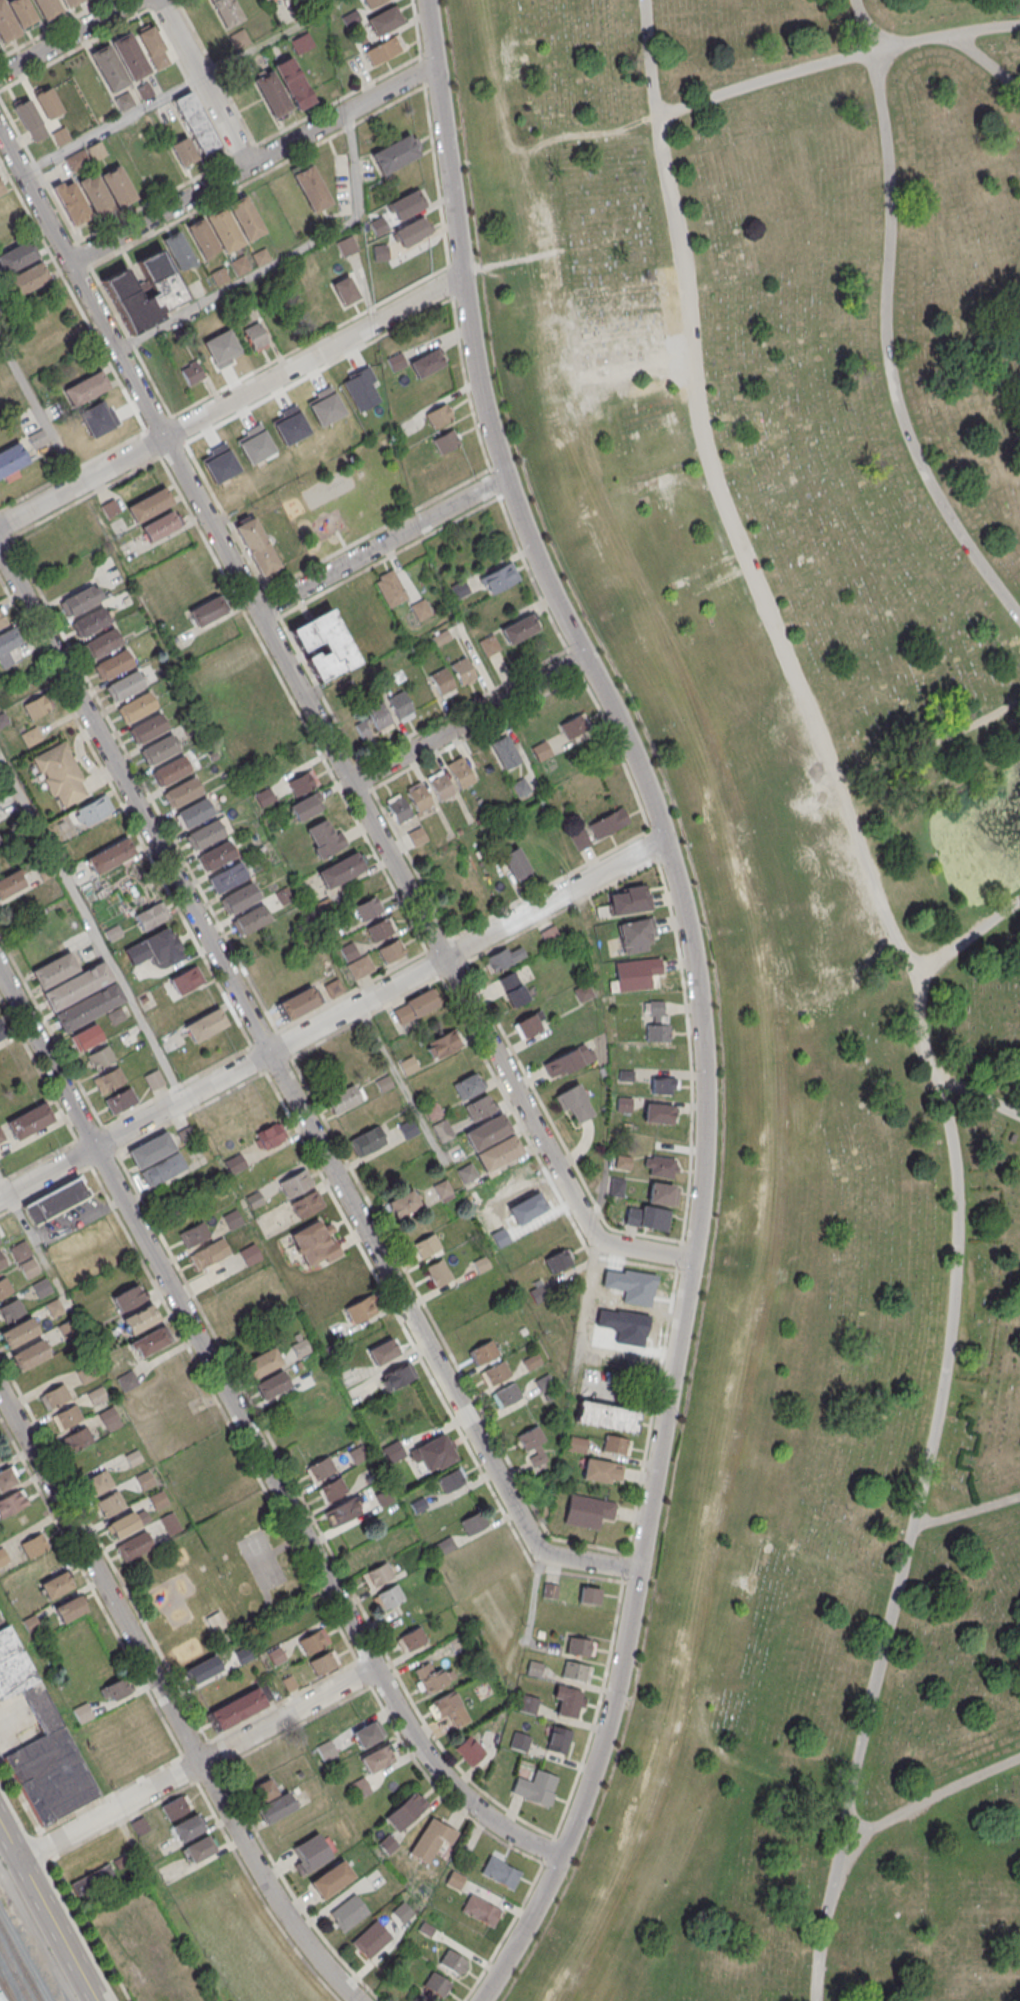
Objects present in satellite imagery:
building: (263, 0)
building: (373, 3)
building: (53, 7)
building: (226, 12)
building: (16, 18)
building: (384, 21)
road: (66, 36)
building: (239, 39)
road: (268, 40)
building: (301, 42)
building: (154, 49)
building: (384, 50)
road: (984, 56)
road: (835, 59)
building: (119, 64)
road: (203, 82)
building: (293, 83)
building: (144, 92)
building: (272, 93)
building: (125, 101)
building: (47, 103)
building: (30, 119)
building: (196, 122)
road: (110, 125)
building: (60, 137)
building: (183, 150)
building: (96, 151)
building: (394, 153)
building: (78, 160)
road: (250, 163)
building: (311, 188)
building: (1, 191)
building: (107, 191)
building: (71, 201)
building: (406, 205)
building: (225, 228)
building: (411, 233)
building: (179, 251)
road: (283, 259)
building: (218, 277)
building: (28, 279)
building: (164, 286)
building: (196, 288)
building: (345, 290)
road: (886, 323)
building: (254, 337)
building: (396, 362)
building: (426, 363)
building: (191, 374)
building: (86, 389)
road: (230, 400)
road: (39, 411)
building: (438, 415)
building: (37, 438)
building: (446, 441)
building: (12, 459)
park: (346, 496)
building: (149, 505)
building: (159, 526)
road: (380, 544)
building: (257, 546)
building: (499, 578)
building: (390, 588)
building: (80, 601)
building: (420, 610)
building: (207, 611)
building: (1, 621)
building: (90, 623)
building: (519, 629)
building: (103, 645)
building: (489, 645)
building: (324, 646)
building: (8, 647)
building: (112, 666)
building: (462, 672)
building: (442, 682)
building: (124, 687)
building: (37, 706)
building: (400, 706)
building: (136, 708)
road: (467, 720)
building: (372, 723)
building: (573, 727)
building: (147, 729)
road: (320, 729)
building: (159, 750)
building: (503, 751)
building: (541, 751)
building: (170, 772)
building: (460, 774)
building: (61, 776)
building: (302, 782)
building: (439, 786)
building: (182, 793)
building: (418, 797)
building: (306, 806)
building: (398, 809)
building: (92, 812)
building: (194, 814)
building: (608, 824)
building: (205, 836)
building: (416, 837)
building: (325, 838)
building: (579, 840)
building: (110, 858)
building: (215, 858)
building: (515, 865)
building: (340, 870)
building: (227, 879)
building: (10, 884)
building: (239, 900)
building: (628, 901)
building: (368, 909)
road: (883, 916)
building: (150, 918)
building: (250, 922)
road: (91, 927)
building: (380, 931)
park: (801, 934)
road: (968, 934)
building: (550, 936)
building: (636, 936)
building: (166, 951)
building: (391, 952)
building: (505, 958)
building: (360, 968)
building: (54, 970)
building: (636, 974)
building: (77, 986)
building: (180, 989)
building: (333, 989)
building: (512, 990)
building: (583, 993)
road: (696, 996)
building: (299, 1004)
building: (89, 1007)
building: (414, 1008)
road: (332, 1017)
building: (657, 1021)
building: (530, 1025)
building: (206, 1026)
building: (2, 1034)
building: (87, 1038)
building: (443, 1045)
building: (99, 1058)
building: (568, 1060)
building: (409, 1067)
building: (154, 1080)
building: (109, 1081)
building: (663, 1085)
building: (468, 1086)
road: (406, 1094)
road: (978, 1096)
road: (293, 1097)
building: (346, 1100)
building: (120, 1102)
building: (575, 1103)
building: (479, 1107)
building: (432, 1111)
building: (658, 1113)
building: (30, 1121)
building: (408, 1130)
building: (442, 1131)
building: (487, 1131)
building: (268, 1136)
building: (367, 1143)
building: (151, 1150)
building: (498, 1153)
building: (235, 1163)
building: (660, 1166)
building: (163, 1170)
building: (295, 1183)
building: (616, 1186)
building: (662, 1193)
building: (56, 1200)
building: (254, 1200)
building: (306, 1205)
building: (404, 1205)
building: (647, 1217)
road: (21, 1218)
building: (232, 1220)
road: (79, 1222)
building: (193, 1235)
building: (316, 1244)
building: (427, 1247)
building: (210, 1254)
building: (250, 1254)
building: (558, 1261)
building: (2, 1262)
building: (481, 1265)
building: (438, 1274)
building: (5, 1288)
building: (42, 1288)
building: (128, 1298)
building: (360, 1309)
building: (11, 1311)
building: (140, 1320)
building: (18, 1333)
building: (152, 1342)
building: (383, 1351)
building: (484, 1352)
building: (30, 1357)
building: (262, 1364)
building: (495, 1375)
building: (397, 1378)
building: (543, 1382)
building: (272, 1387)
building: (506, 1396)
building: (54, 1398)
building: (607, 1416)
building: (67, 1418)
road: (251, 1438)
building: (78, 1441)
building: (616, 1444)
building: (577, 1445)
building: (533, 1447)
building: (434, 1454)
building: (321, 1469)
building: (603, 1472)
building: (5, 1479)
building: (451, 1481)
building: (97, 1483)
building: (333, 1491)
building: (110, 1504)
road: (967, 1510)
building: (345, 1512)
building: (587, 1512)
building: (473, 1522)
road: (299, 1538)
building: (34, 1546)
road: (284, 1546)
building: (444, 1546)
building: (135, 1547)
park: (262, 1559)
building: (377, 1576)
park: (218, 1582)
building: (57, 1585)
building: (589, 1595)
building: (389, 1598)
road: (267, 1599)
building: (70, 1609)
building: (217, 1622)
building: (412, 1641)
building: (313, 1642)
building: (580, 1646)
building: (276, 1657)
building: (323, 1663)
building: (576, 1671)
building: (204, 1672)
building: (431, 1678)
building: (567, 1700)
road: (167, 1702)
building: (237, 1710)
building: (449, 1710)
building: (83, 1712)
building: (368, 1733)
building: (557, 1739)
building: (41, 1740)
building: (519, 1741)
building: (326, 1750)
building: (469, 1751)
building: (377, 1759)
road: (196, 1763)
building: (535, 1787)
road: (930, 1798)
building: (270, 1800)
building: (177, 1807)
building: (406, 1812)
building: (140, 1827)
building: (188, 1827)
building: (431, 1840)
building: (199, 1849)
building: (310, 1854)
building: (500, 1872)
building: (331, 1880)
building: (94, 1882)
building: (480, 1910)
road: (47, 1913)
building: (348, 1913)
building: (403, 1913)
road: (824, 1921)
building: (371, 1940)
building: (453, 1962)
railway: (21, 1963)
railway: (16, 1971)
railway: (6, 1986)
building: (432, 1989)
railway: (5, 1991)
railway: (0, 1999)

